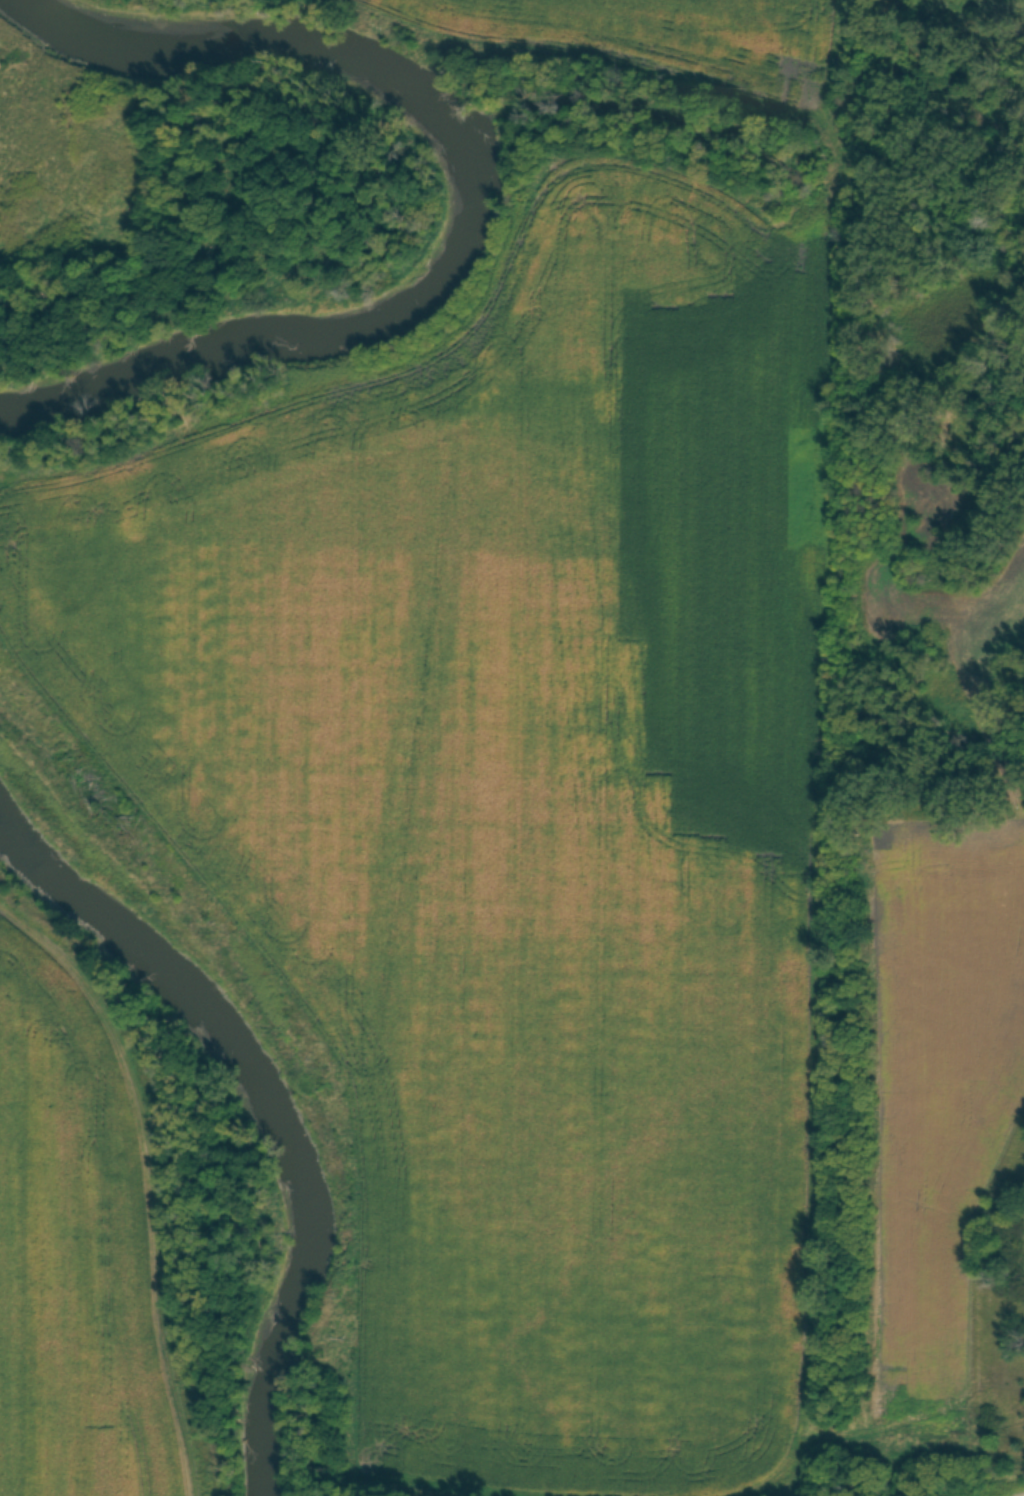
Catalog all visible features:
river: (470, 217)
river: (269, 1111)

